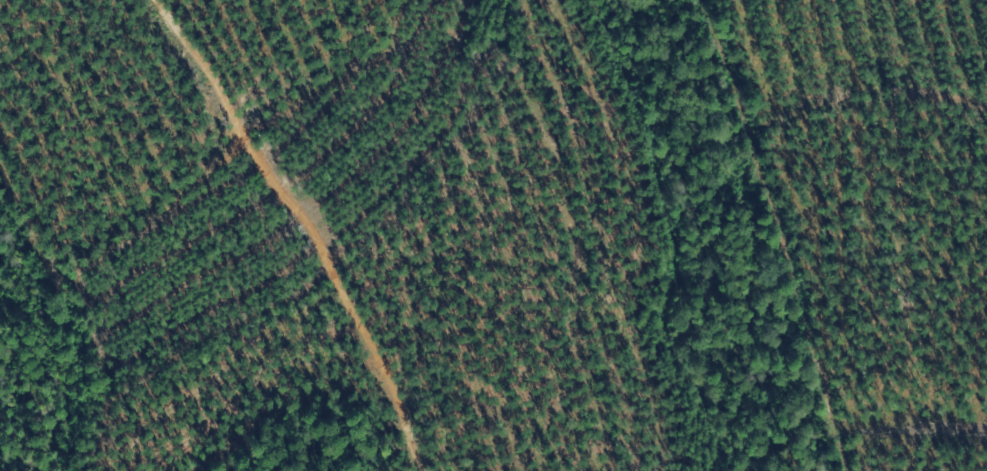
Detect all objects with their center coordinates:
road: (298, 226)

